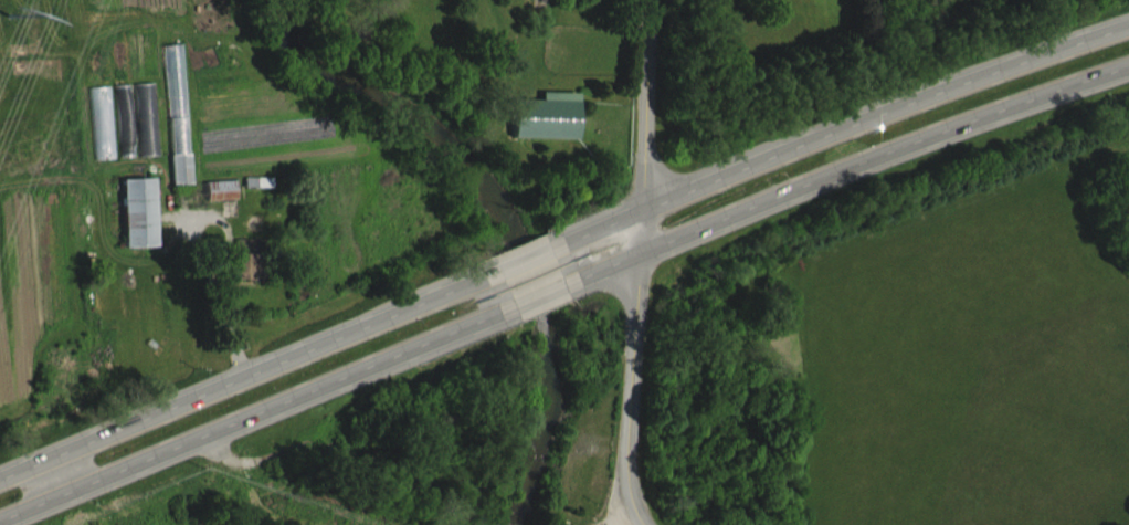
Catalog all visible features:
power tower: (8, 15)
building: (183, 97)
road: (644, 105)
road: (844, 128)
building: (555, 132)
road: (851, 166)
building: (230, 206)
building: (148, 229)
road: (637, 232)
road: (523, 258)
building: (255, 274)
road: (537, 292)
road: (241, 368)
road: (632, 391)
road: (249, 414)

